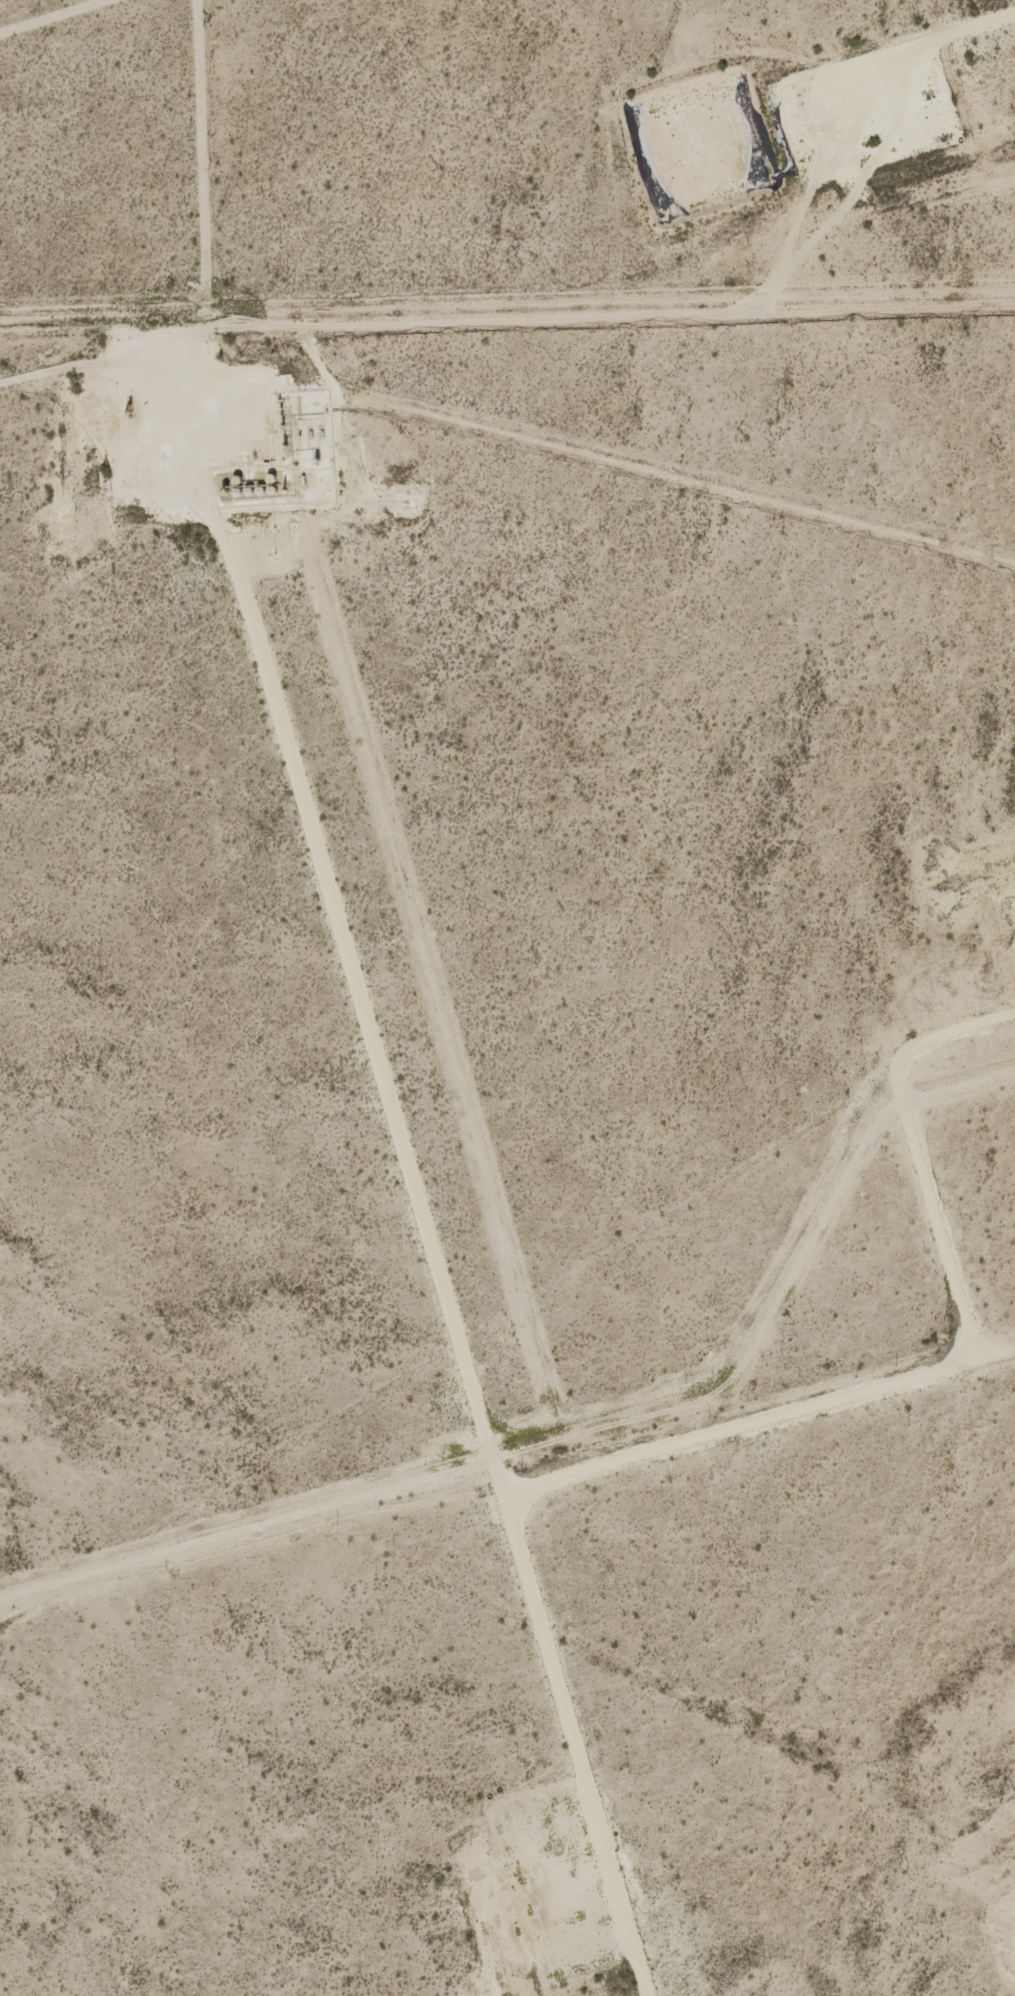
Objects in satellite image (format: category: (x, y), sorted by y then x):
road: (916, 50)
petroleum well: (876, 141)
road: (433, 1243)
road: (979, 1370)

